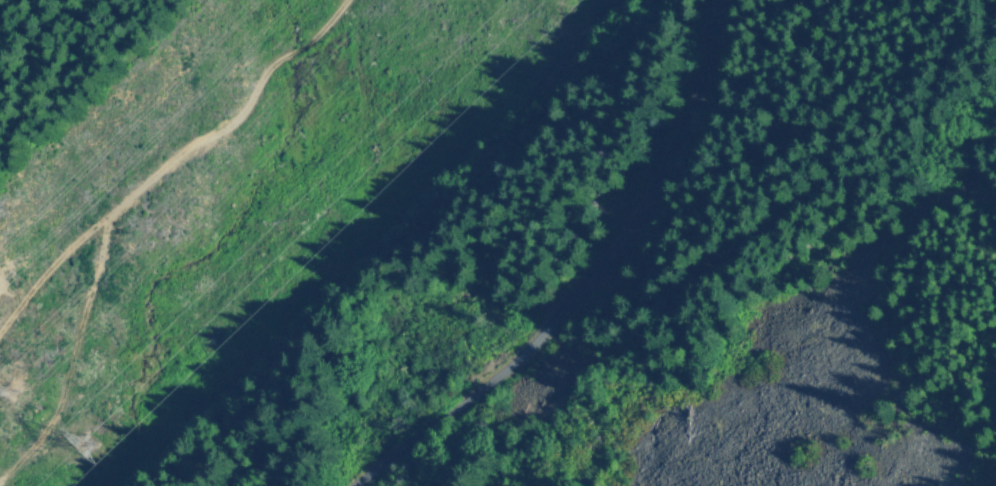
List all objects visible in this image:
road: (585, 281)
power tower: (2, 285)
power tower: (9, 397)
power tower: (85, 442)

